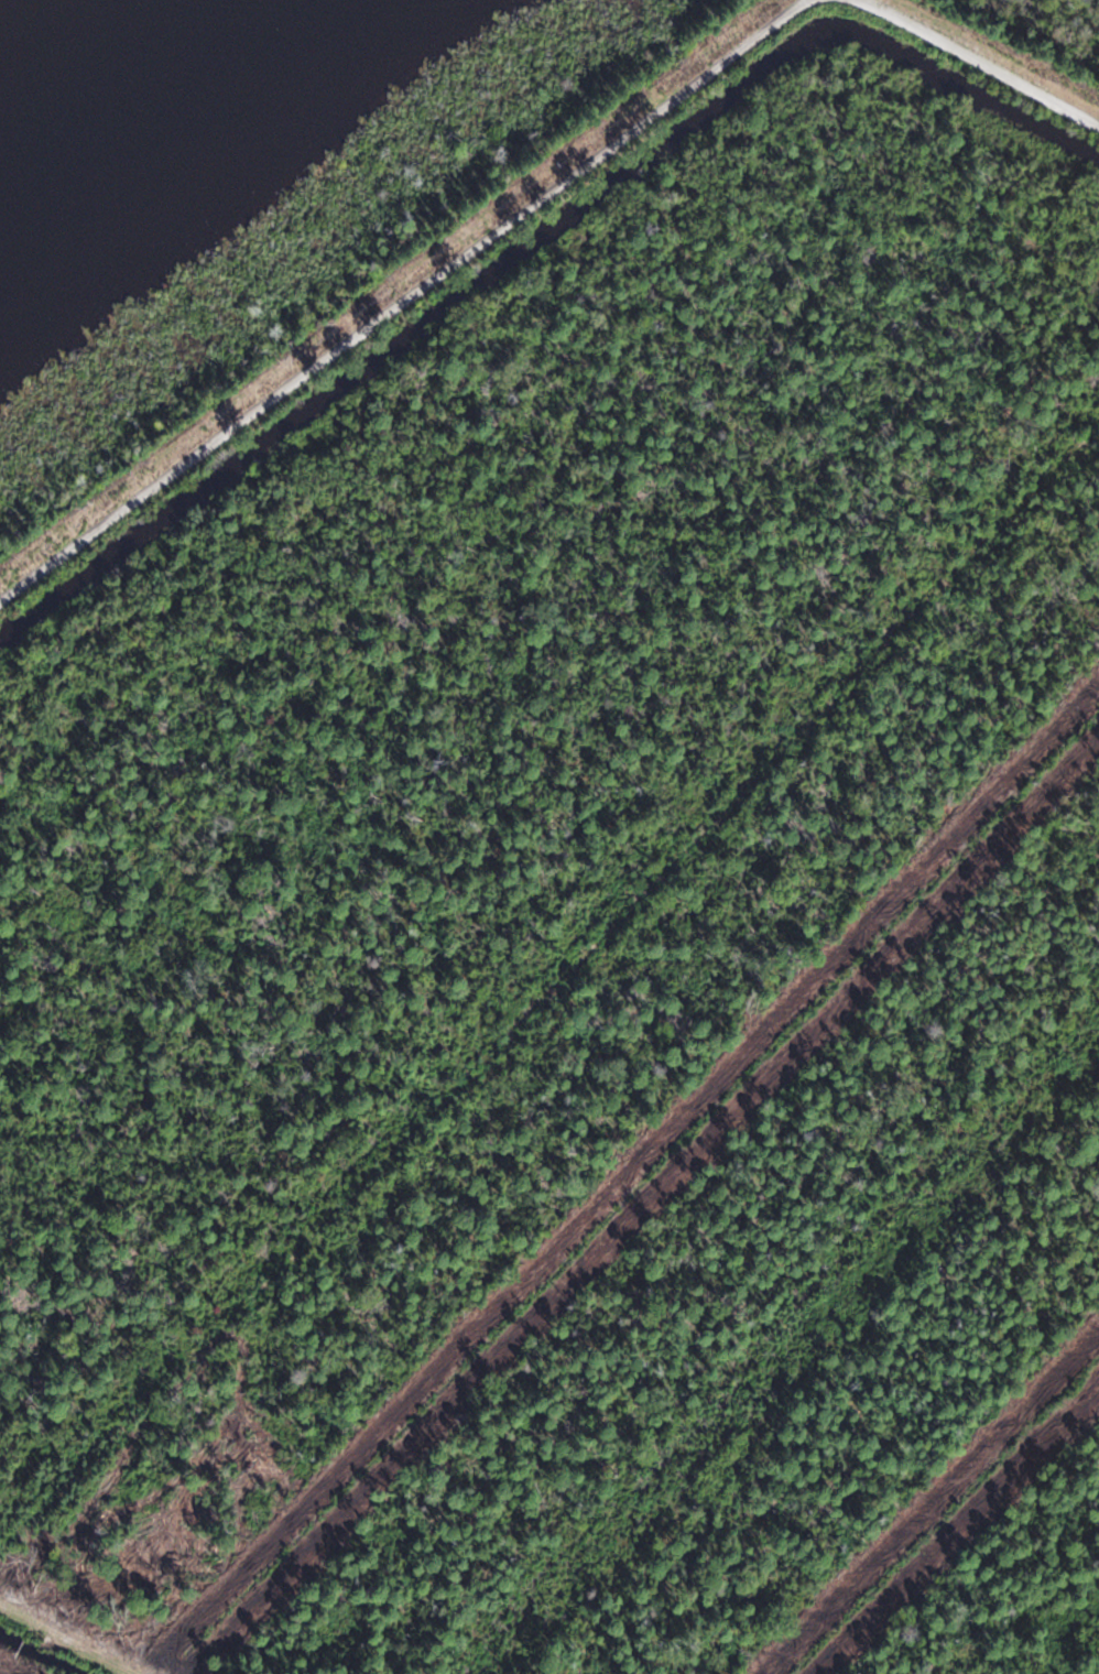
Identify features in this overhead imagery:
road: (971, 64)
road: (406, 292)
road: (0, 1673)

